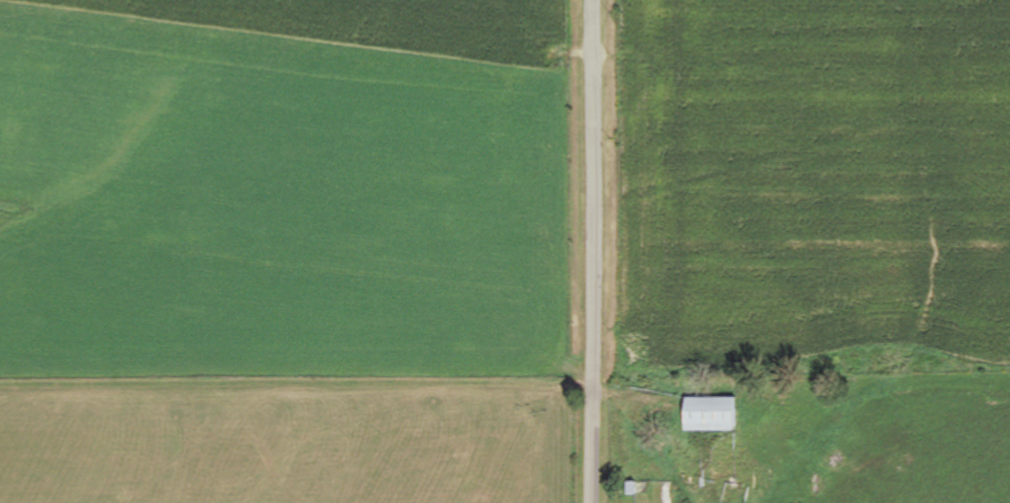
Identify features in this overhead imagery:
road: (592, 251)
building: (709, 416)
building: (629, 491)

